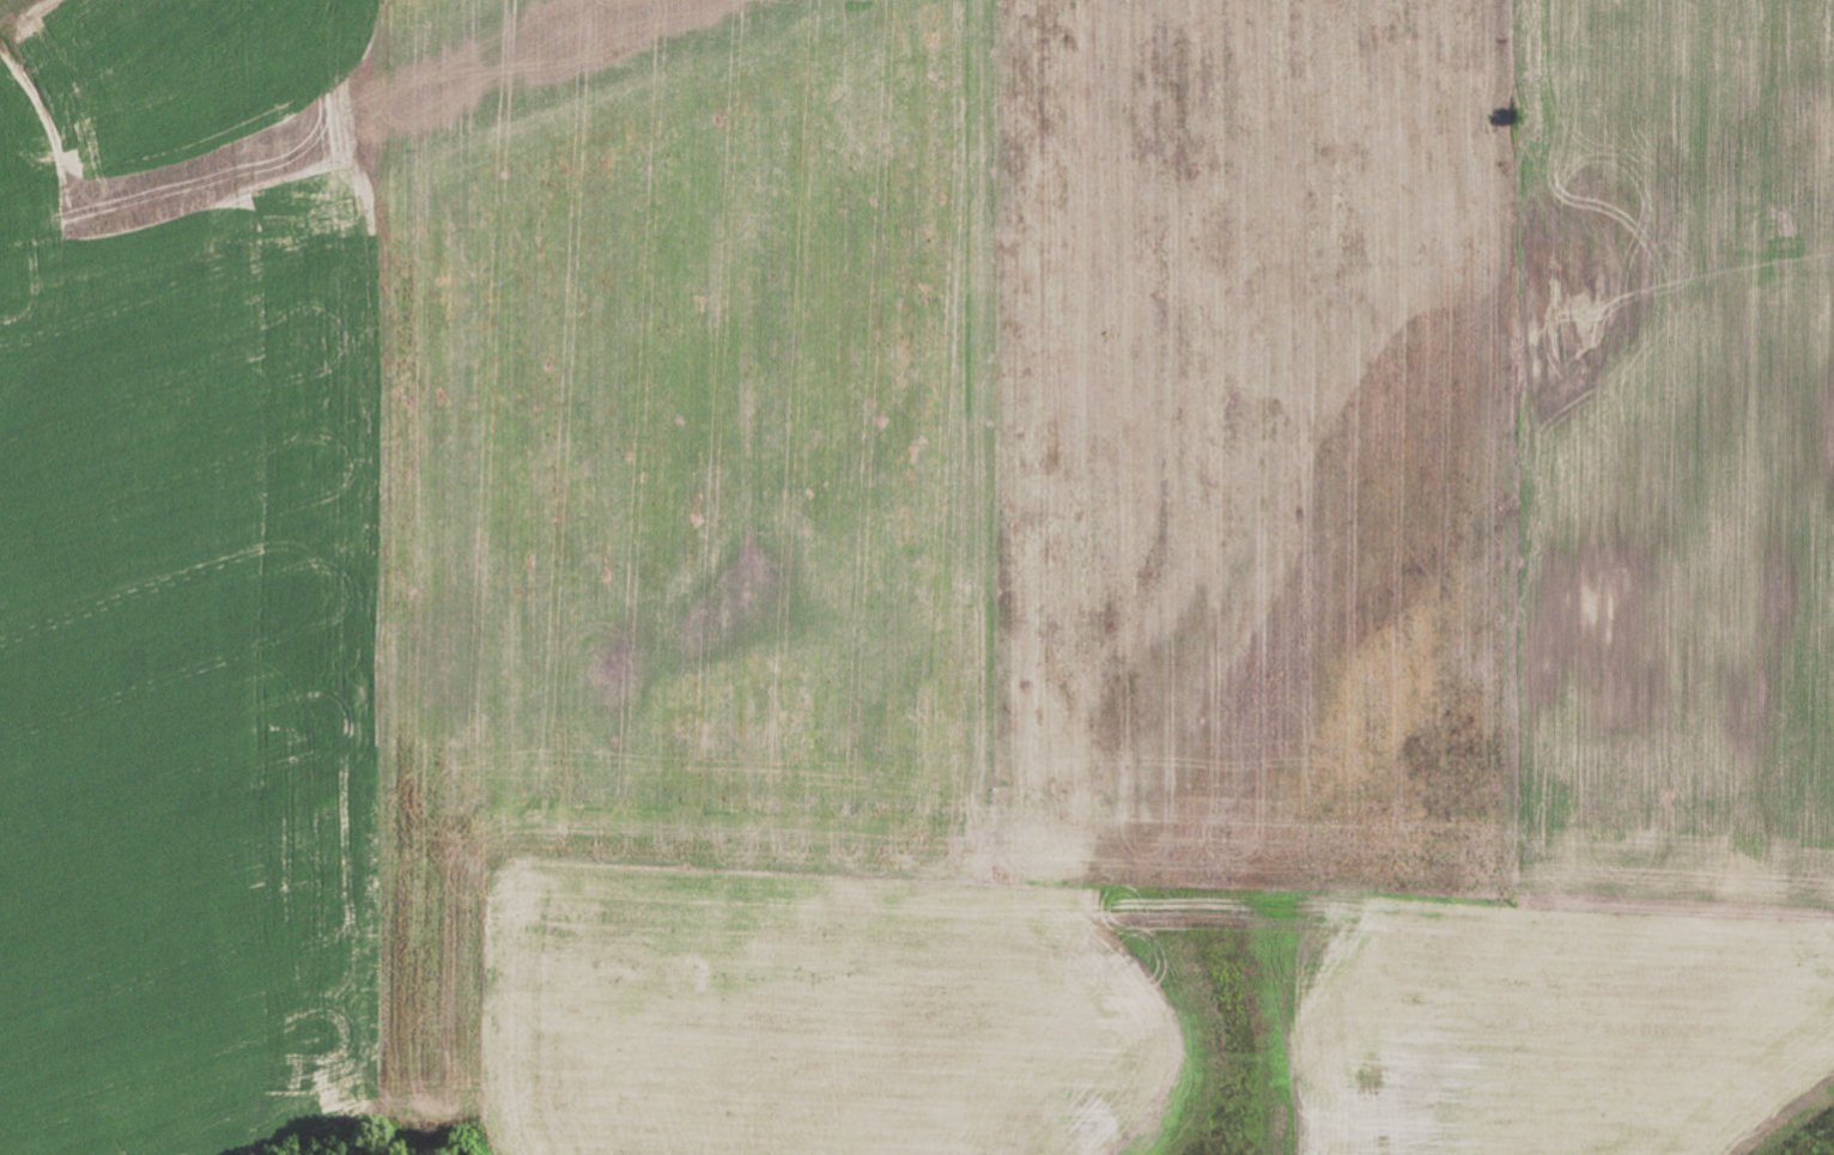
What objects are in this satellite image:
road: (1772, 850)

